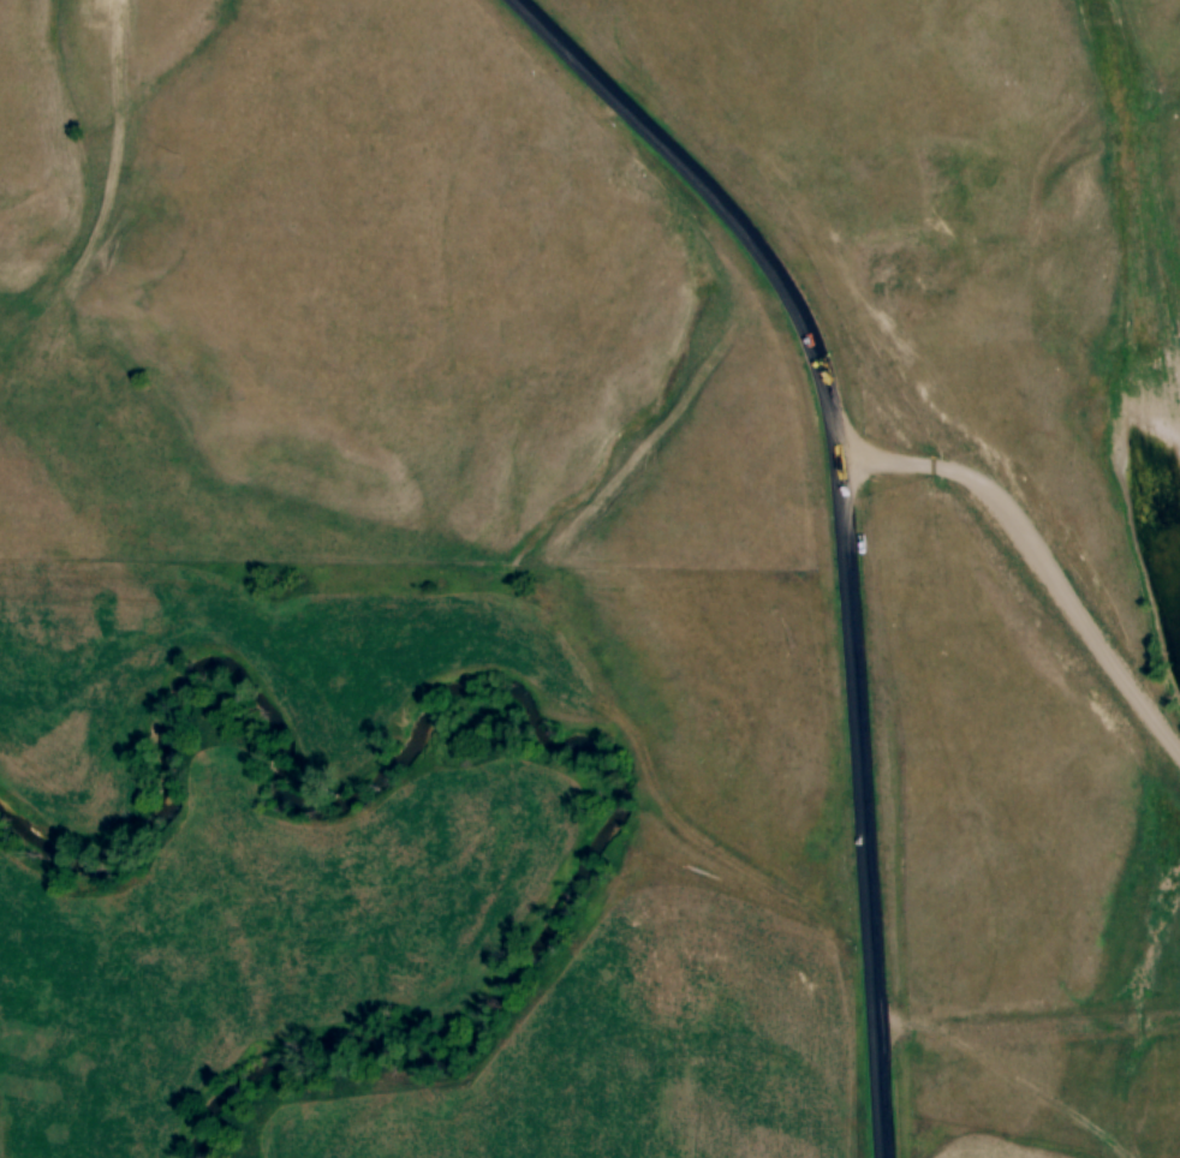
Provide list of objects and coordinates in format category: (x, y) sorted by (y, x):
road: (838, 521)
road: (1032, 559)

